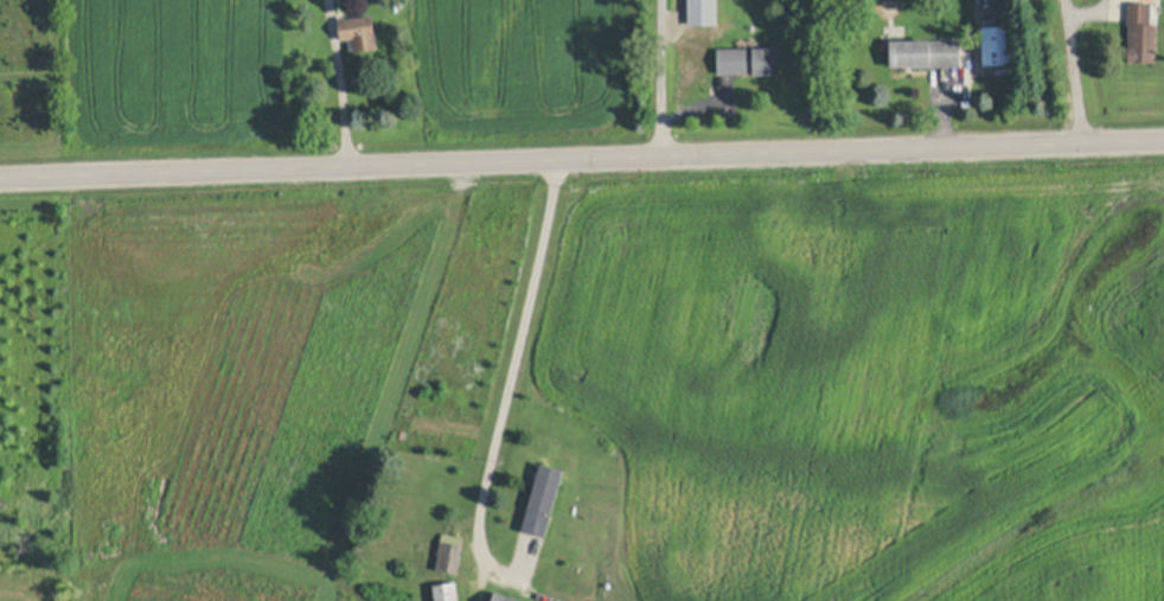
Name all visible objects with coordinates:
building: (708, 13)
building: (359, 31)
building: (1146, 36)
building: (1000, 49)
building: (927, 51)
building: (748, 60)
road: (1075, 71)
road: (664, 78)
road: (343, 83)
road: (582, 160)
road: (523, 345)
building: (543, 497)
building: (450, 555)
building: (449, 592)
building: (510, 596)

